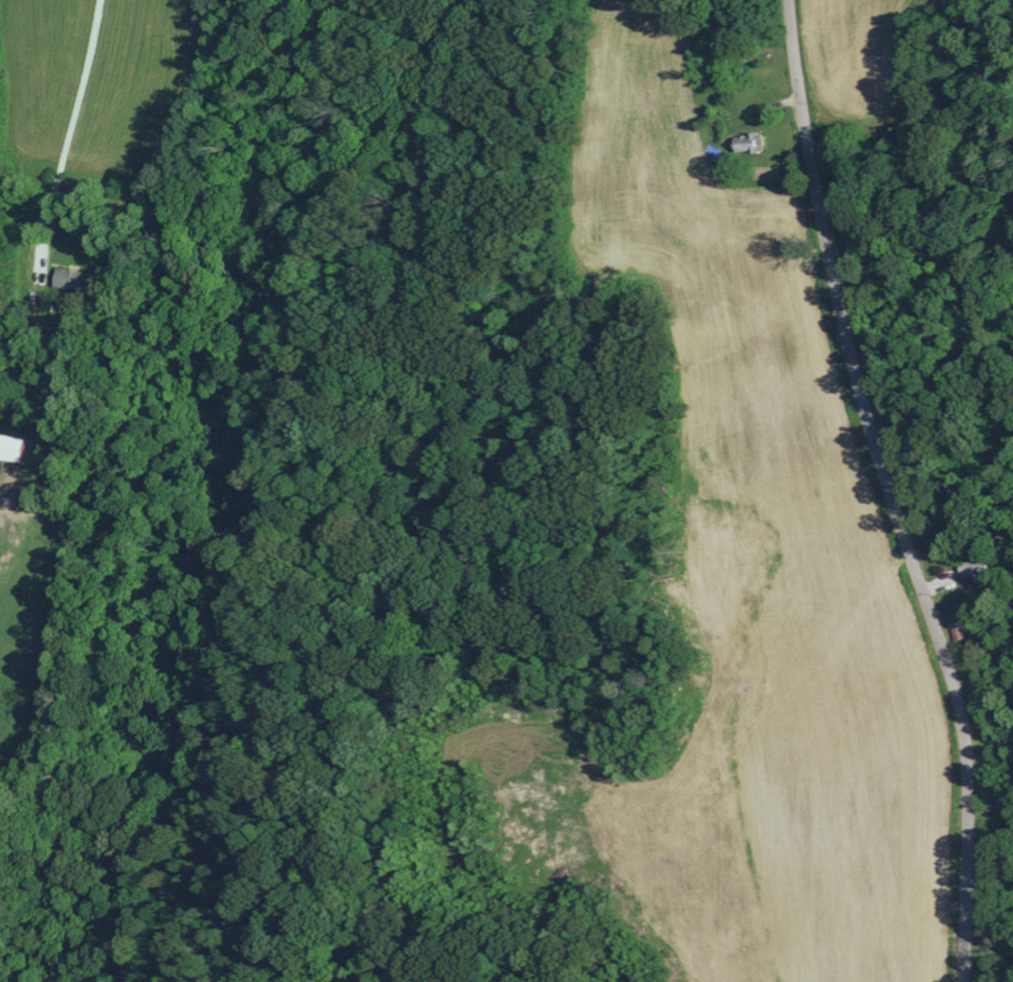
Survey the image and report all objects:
building: (746, 142)
road: (49, 208)
building: (70, 279)
building: (10, 447)
road: (893, 490)
building: (972, 569)

